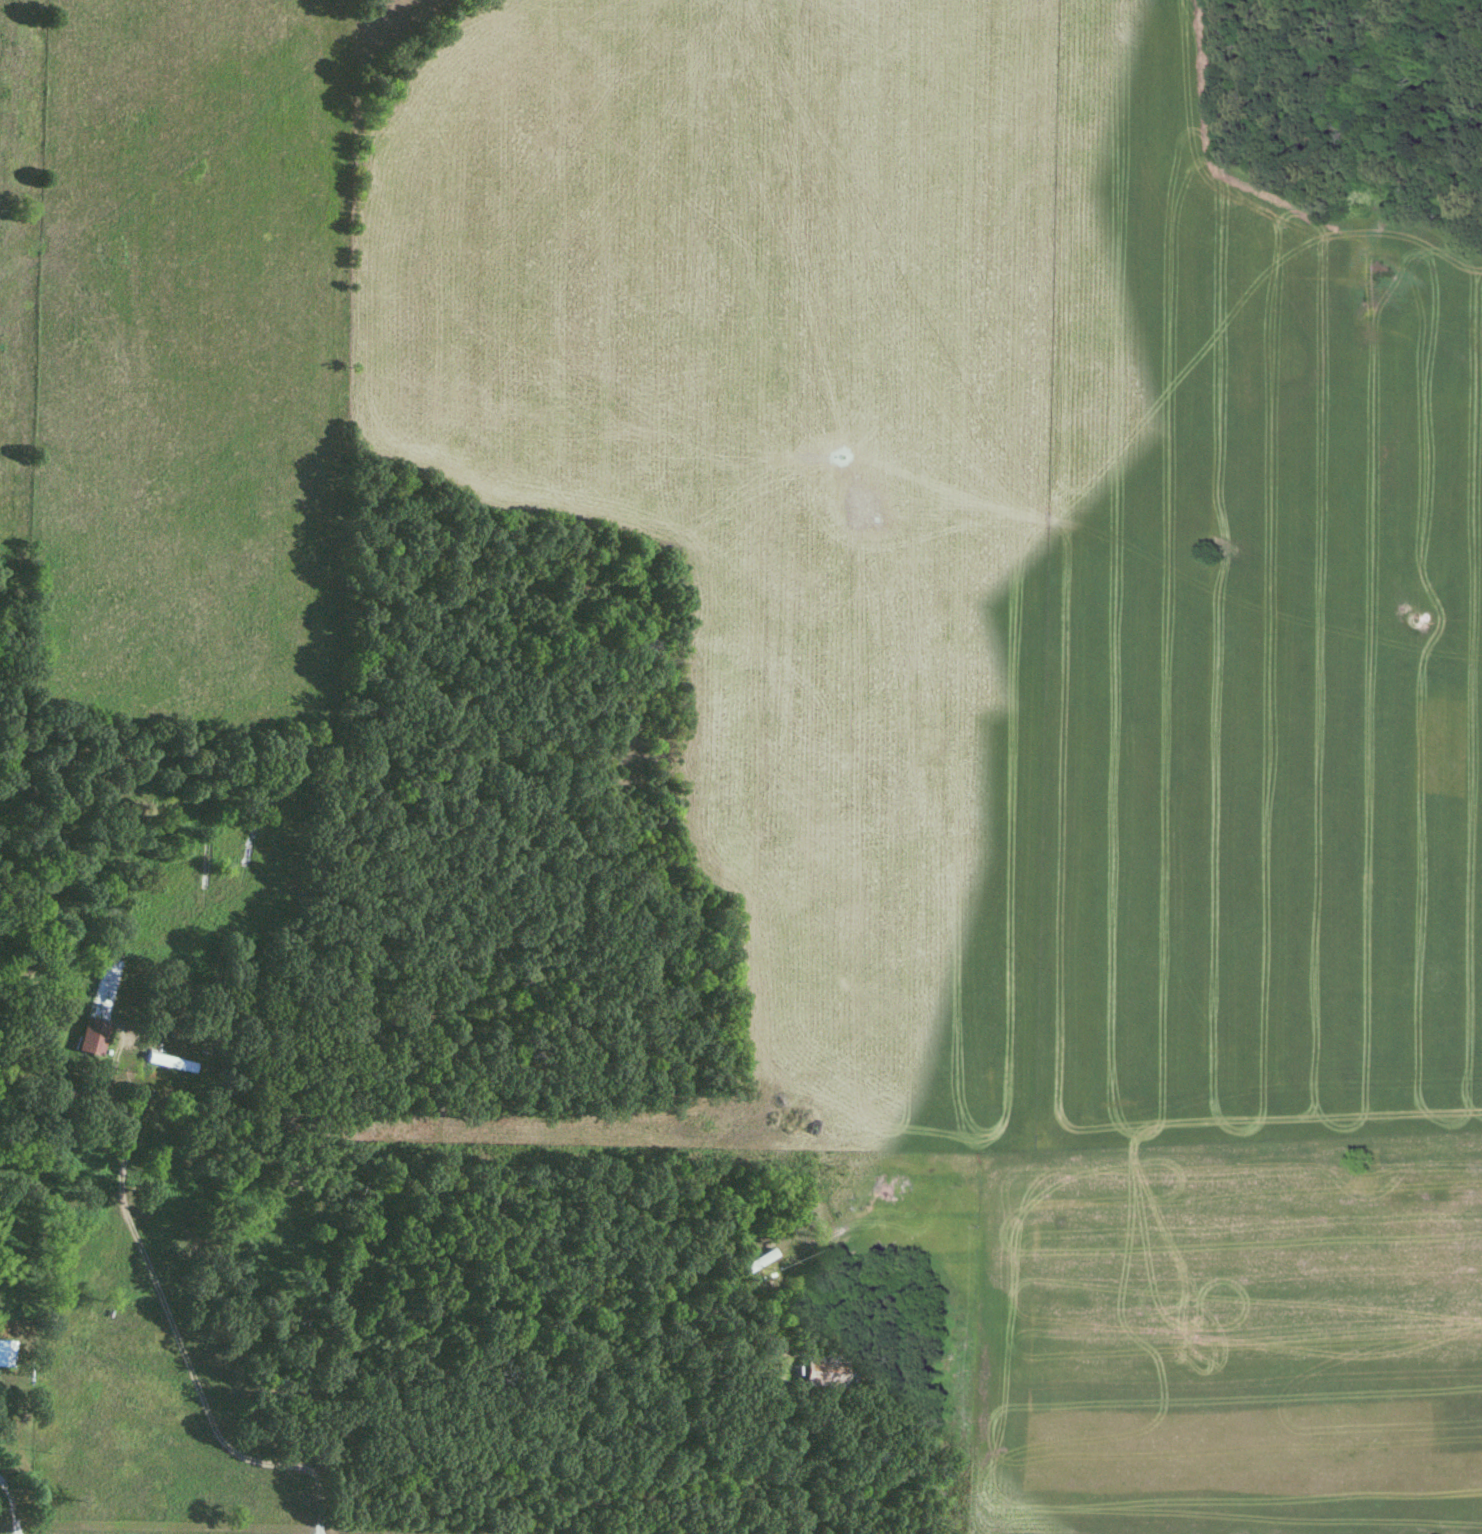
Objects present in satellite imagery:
building: (99, 1007)
building: (9, 1357)
road: (183, 1360)

